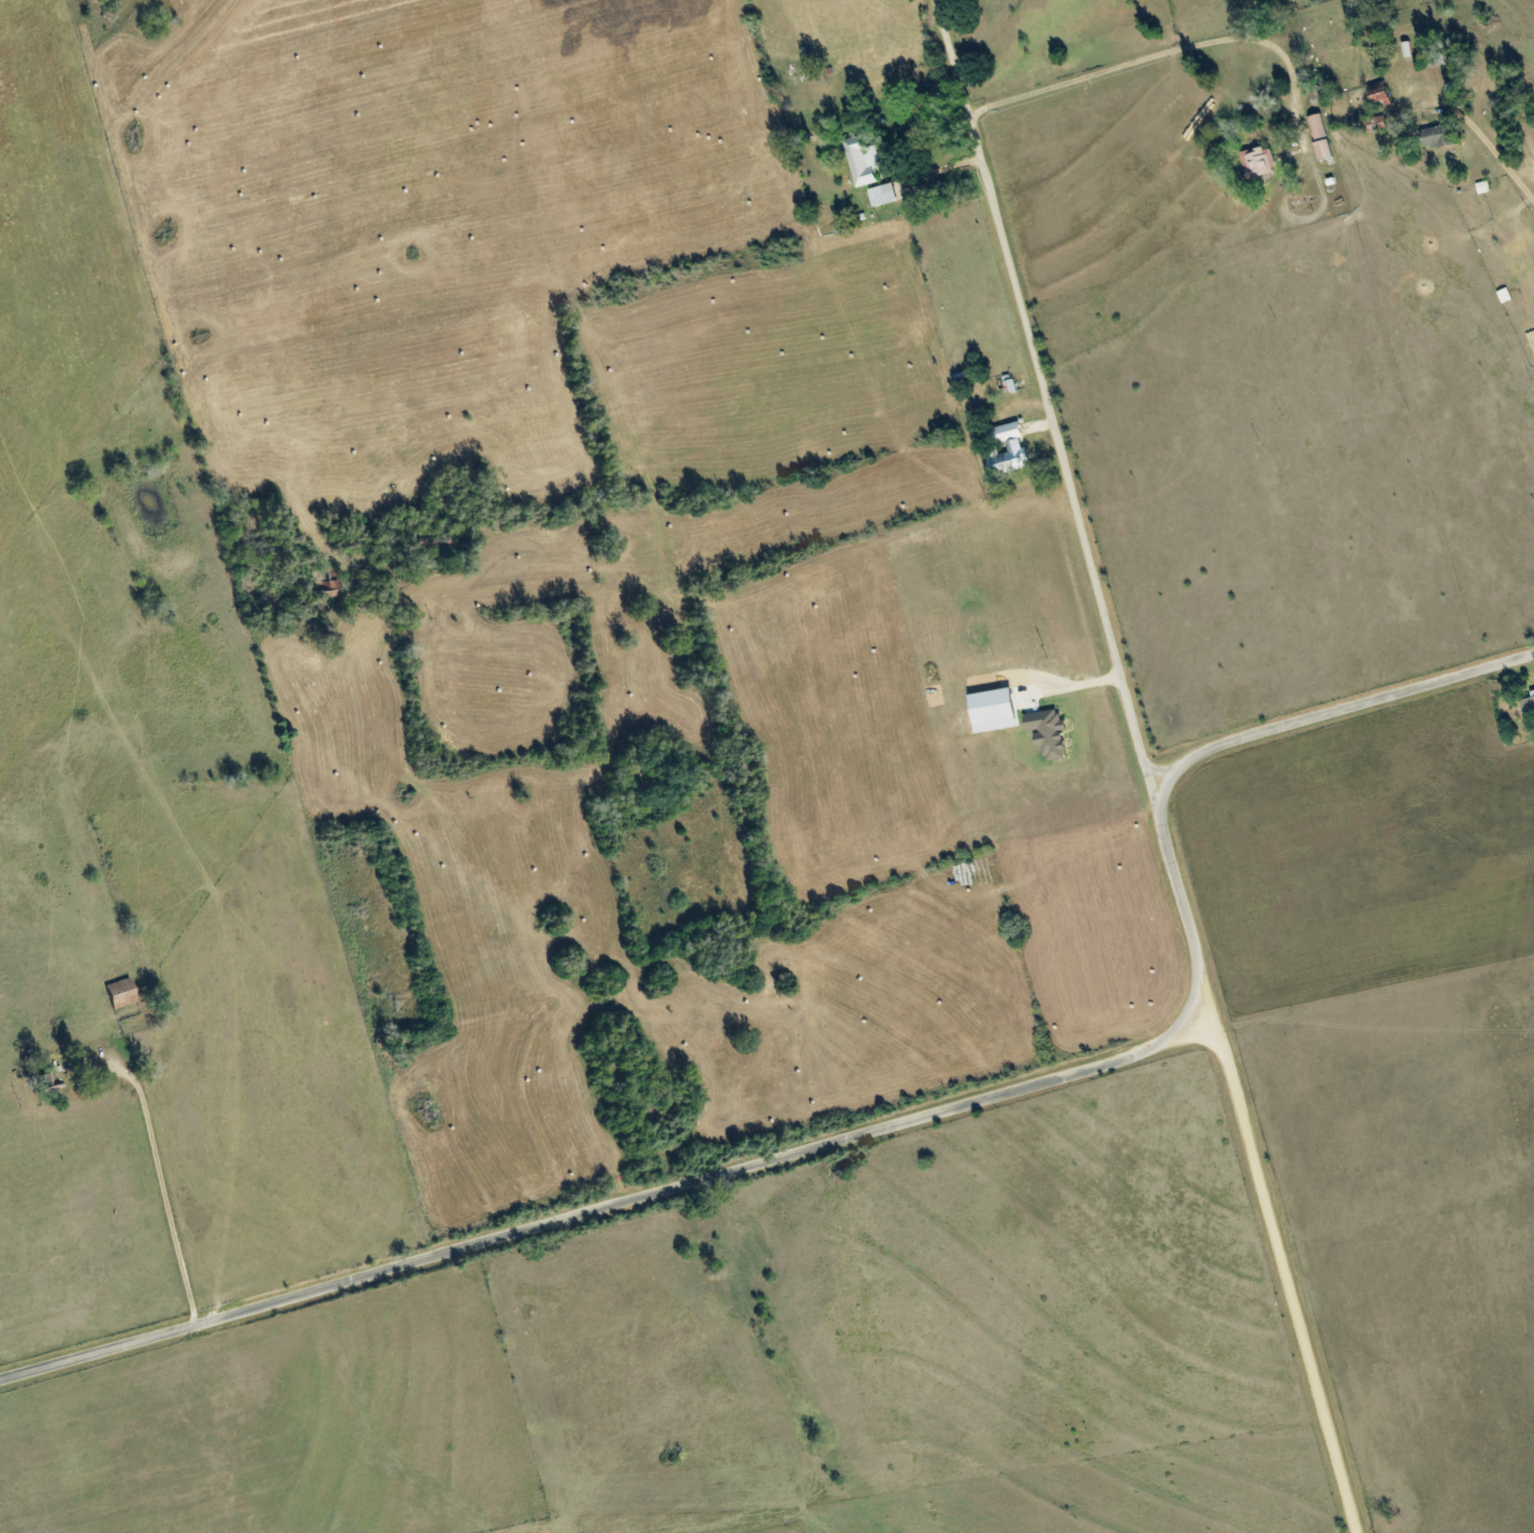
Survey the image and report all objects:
road: (1168, 53)
building: (1380, 99)
building: (1375, 124)
building: (1317, 126)
building: (1436, 137)
building: (1322, 150)
road: (1493, 155)
building: (862, 161)
building: (1258, 162)
building: (882, 194)
road: (1052, 411)
building: (1015, 448)
building: (1528, 708)
building: (993, 711)
road: (1324, 713)
building: (1047, 733)
building: (119, 993)
road: (1256, 1178)
road: (161, 1183)
road: (623, 1201)

